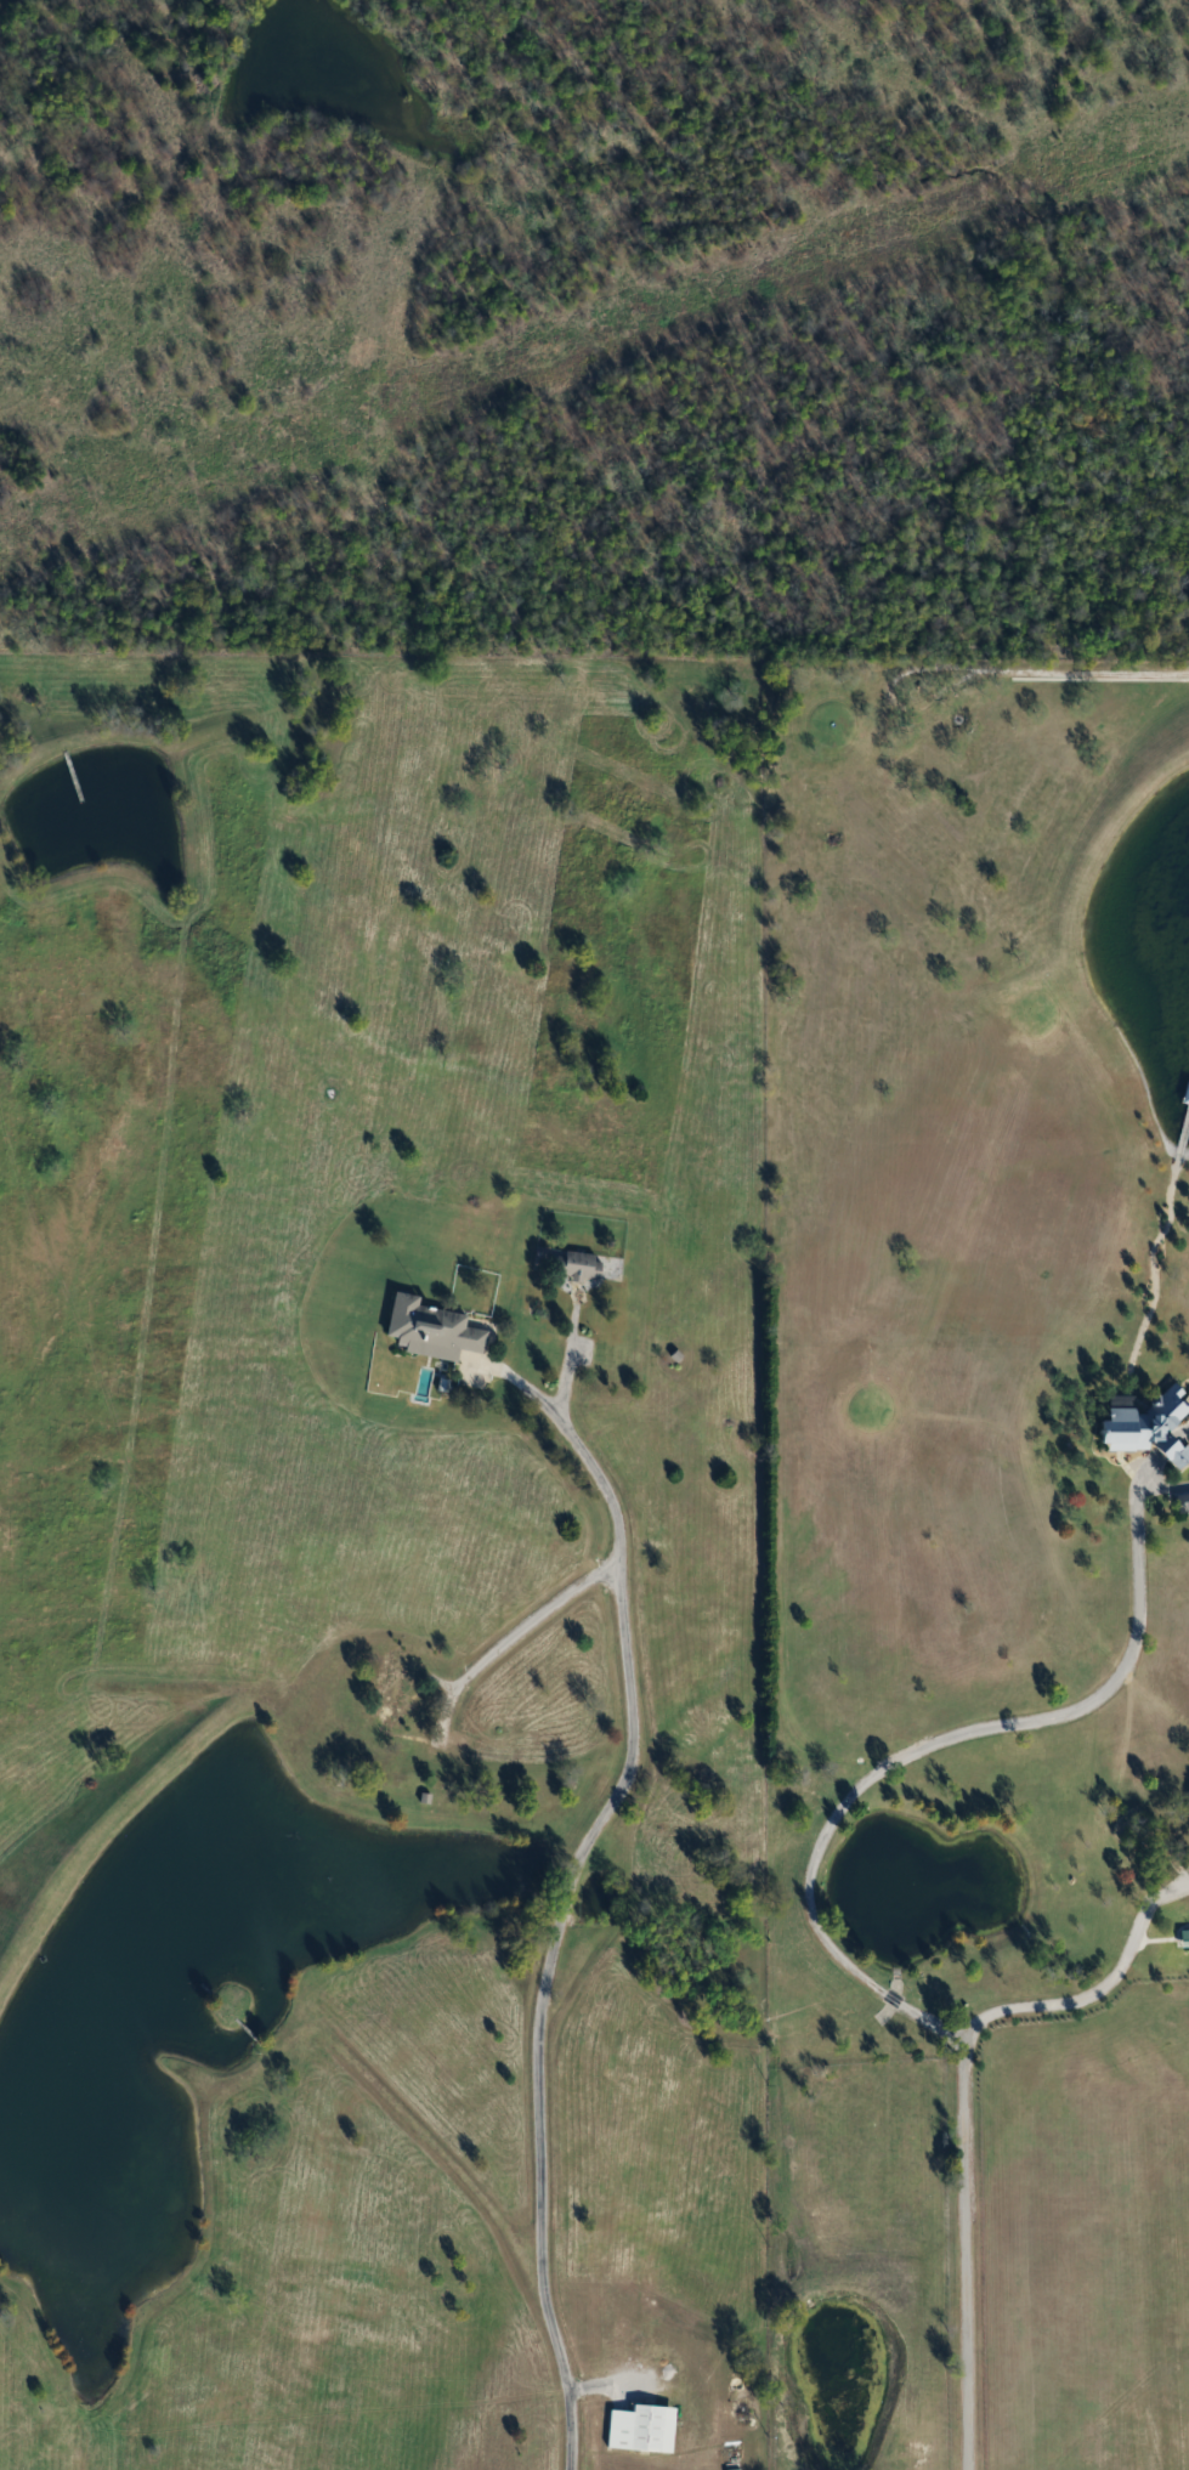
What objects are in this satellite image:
road: (1085, 669)
building: (584, 1264)
building: (434, 1329)
building: (1150, 1423)
building: (395, 1707)
road: (933, 1738)
road: (555, 1927)
building: (1185, 1936)
building: (883, 2012)
road: (962, 2100)
building: (642, 2426)

